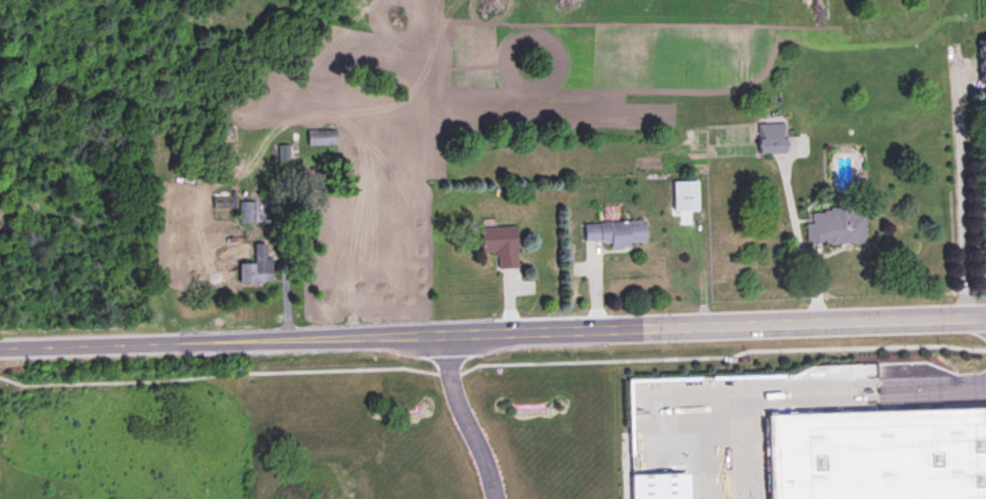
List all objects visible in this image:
building: (982, 63)
building: (320, 138)
building: (770, 138)
road: (956, 189)
building: (834, 226)
building: (614, 232)
building: (499, 244)
building: (253, 267)
road: (803, 267)
road: (492, 331)
road: (721, 356)
road: (217, 374)
road: (461, 417)
building: (880, 454)

